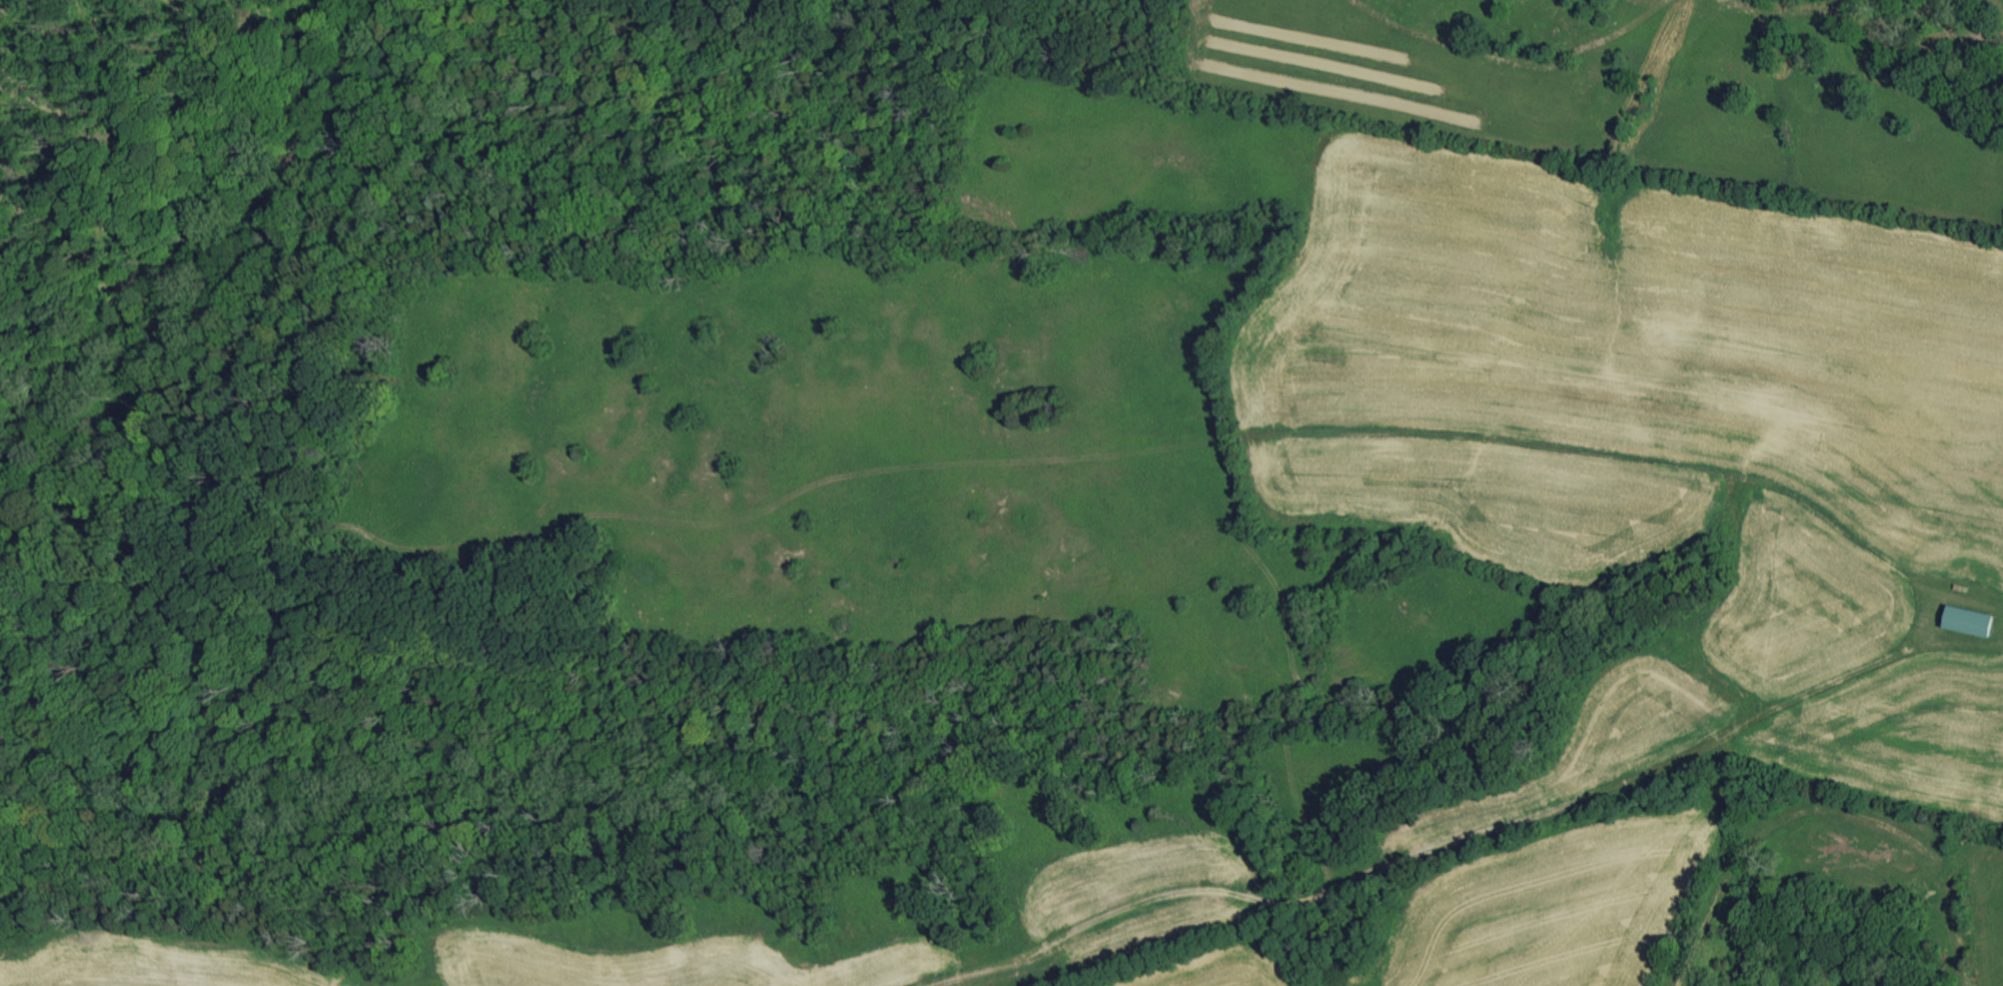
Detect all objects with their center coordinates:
building: (1967, 620)

